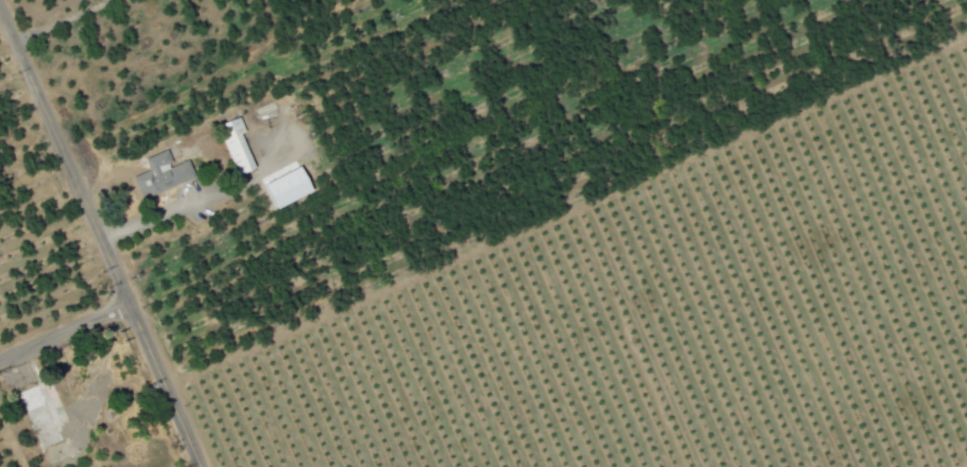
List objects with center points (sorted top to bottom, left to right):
road: (64, 21)
building: (238, 144)
building: (162, 174)
road: (180, 210)
road: (97, 237)
road: (64, 333)
building: (43, 412)

